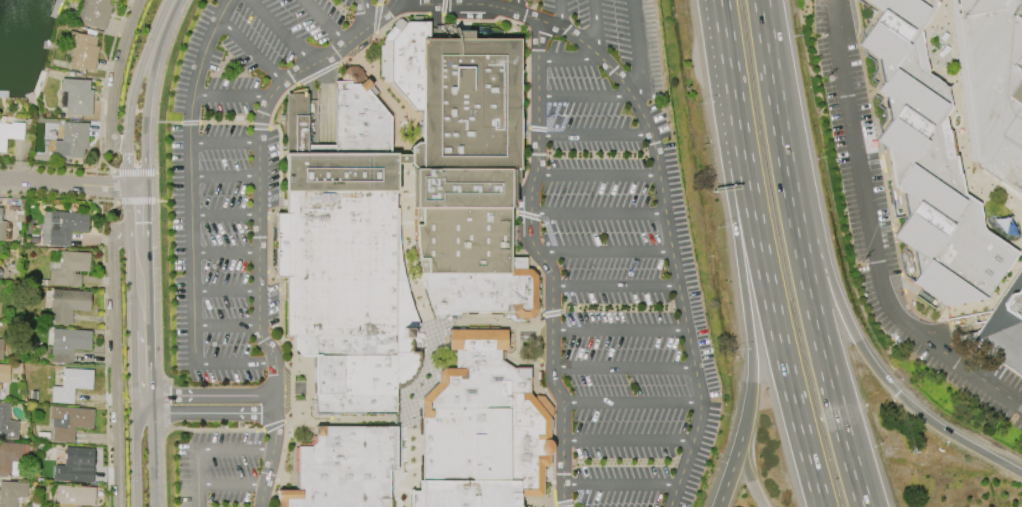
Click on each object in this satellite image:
road: (410, 2)
road: (439, 2)
road: (477, 2)
road: (378, 3)
road: (398, 3)
road: (442, 6)
road: (517, 6)
road: (364, 12)
building: (92, 13)
road: (435, 14)
road: (560, 14)
road: (399, 15)
road: (376, 18)
road: (536, 18)
road: (326, 21)
road: (479, 21)
road: (435, 23)
road: (464, 26)
road: (596, 28)
road: (286, 30)
road: (718, 31)
road: (724, 31)
parking lot: (617, 33)
road: (617, 33)
road: (250, 47)
building: (82, 51)
road: (635, 53)
road: (364, 55)
road: (166, 58)
road: (568, 59)
road: (316, 62)
road: (317, 73)
road: (633, 73)
road: (528, 74)
road: (117, 78)
road: (731, 78)
building: (991, 84)
road: (103, 85)
road: (132, 90)
road: (149, 91)
road: (230, 92)
road: (584, 96)
building: (76, 97)
road: (330, 100)
road: (277, 101)
road: (322, 101)
road: (564, 121)
road: (167, 122)
road: (224, 122)
road: (189, 123)
road: (259, 126)
road: (536, 128)
building: (10, 132)
road: (593, 135)
road: (223, 139)
building: (71, 140)
building: (344, 141)
road: (155, 146)
road: (279, 155)
building: (929, 164)
parking lot: (227, 167)
building: (466, 167)
road: (52, 168)
road: (101, 172)
road: (133, 172)
road: (189, 172)
road: (223, 173)
road: (258, 174)
road: (597, 175)
road: (68, 184)
road: (156, 186)
road: (114, 187)
parking lot: (865, 192)
road: (58, 197)
road: (136, 201)
road: (157, 201)
road: (165, 201)
road: (180, 201)
road: (137, 211)
road: (280, 211)
road: (598, 212)
road: (224, 215)
road: (528, 215)
road: (262, 218)
road: (270, 218)
building: (66, 226)
road: (515, 226)
building: (1, 227)
road: (872, 233)
road: (549, 234)
road: (224, 249)
road: (258, 251)
road: (604, 252)
road: (738, 254)
road: (801, 255)
building: (338, 262)
road: (545, 263)
building: (68, 268)
road: (262, 272)
building: (0, 274)
road: (282, 278)
road: (139, 283)
road: (615, 286)
road: (225, 288)
road: (158, 290)
parking lot: (609, 291)
road: (609, 291)
road: (420, 296)
road: (570, 296)
road: (281, 299)
road: (770, 302)
building: (67, 305)
road: (258, 305)
road: (682, 308)
road: (552, 312)
road: (463, 316)
road: (566, 320)
road: (484, 321)
road: (226, 322)
road: (539, 323)
road: (850, 327)
building: (1003, 328)
road: (619, 330)
building: (68, 344)
building: (1, 346)
road: (104, 351)
road: (231, 360)
building: (365, 360)
road: (114, 361)
road: (141, 366)
road: (622, 368)
building: (4, 373)
road: (253, 381)
building: (71, 384)
road: (206, 395)
road: (631, 402)
road: (166, 403)
road: (205, 413)
road: (272, 413)
building: (69, 421)
building: (7, 423)
road: (312, 424)
road: (272, 425)
road: (174, 428)
road: (295, 429)
building: (482, 429)
road: (253, 438)
road: (628, 441)
road: (295, 447)
road: (135, 453)
road: (151, 453)
road: (282, 454)
building: (9, 458)
road: (196, 458)
road: (734, 461)
road: (743, 462)
road: (407, 464)
building: (75, 465)
building: (343, 468)
parking lot: (218, 469)
road: (399, 470)
road: (294, 479)
road: (405, 479)
road: (553, 481)
road: (620, 482)
road: (296, 484)
road: (275, 485)
road: (402, 490)
building: (11, 492)
road: (267, 492)
road: (579, 493)
road: (197, 494)
road: (277, 494)
road: (283, 494)
building: (73, 495)
road: (554, 498)
road: (563, 504)

